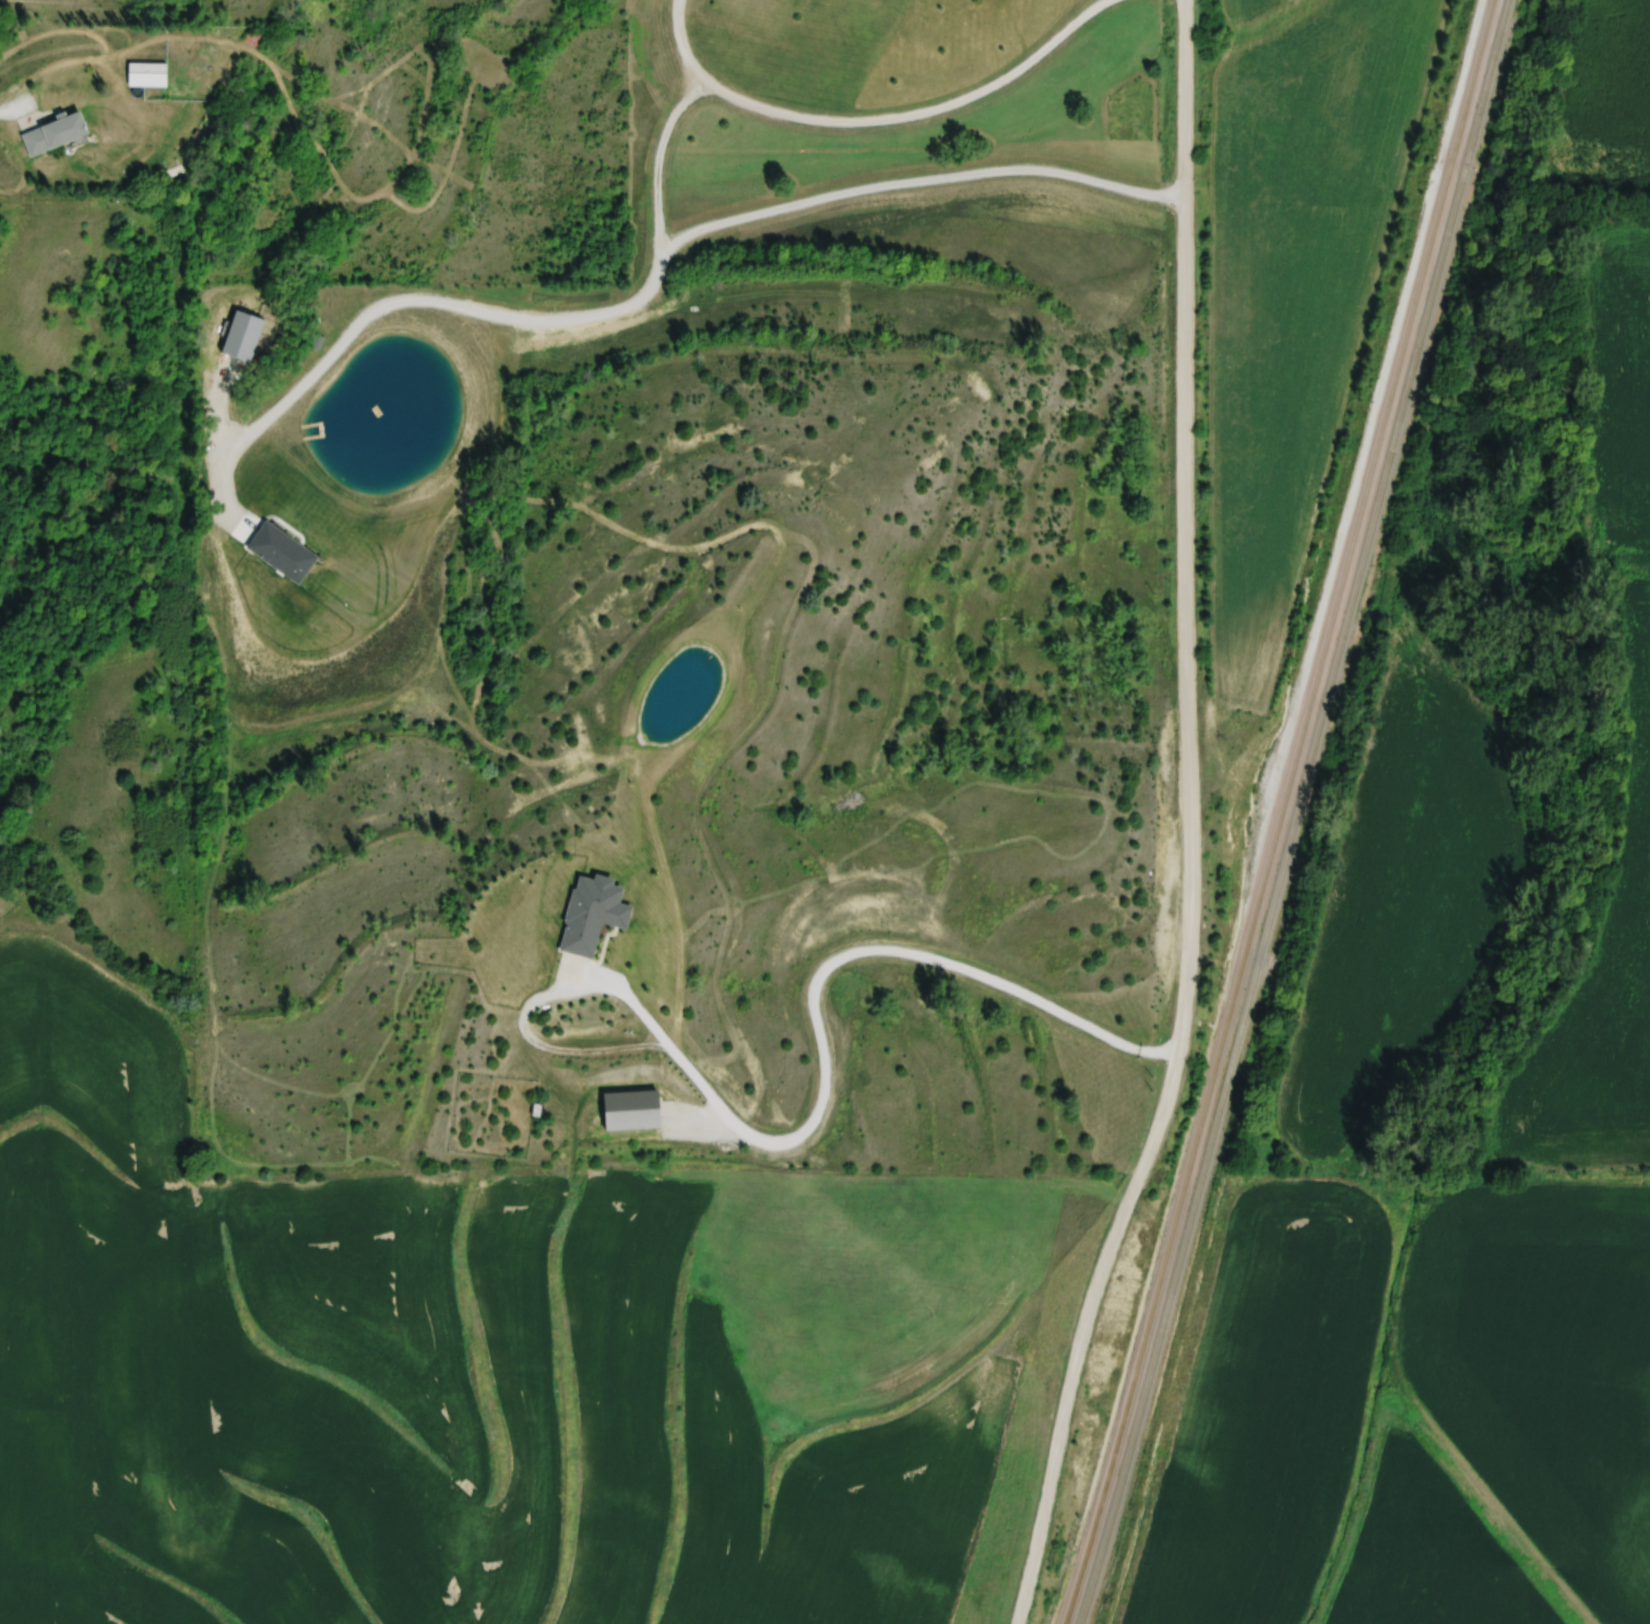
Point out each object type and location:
building: (150, 75)
road: (11, 112)
road: (871, 120)
building: (54, 134)
road: (655, 157)
road: (649, 283)
building: (316, 341)
railway: (1273, 811)
railway: (1292, 811)
road: (1189, 820)
building: (584, 901)
road: (844, 1018)
building: (622, 1095)

